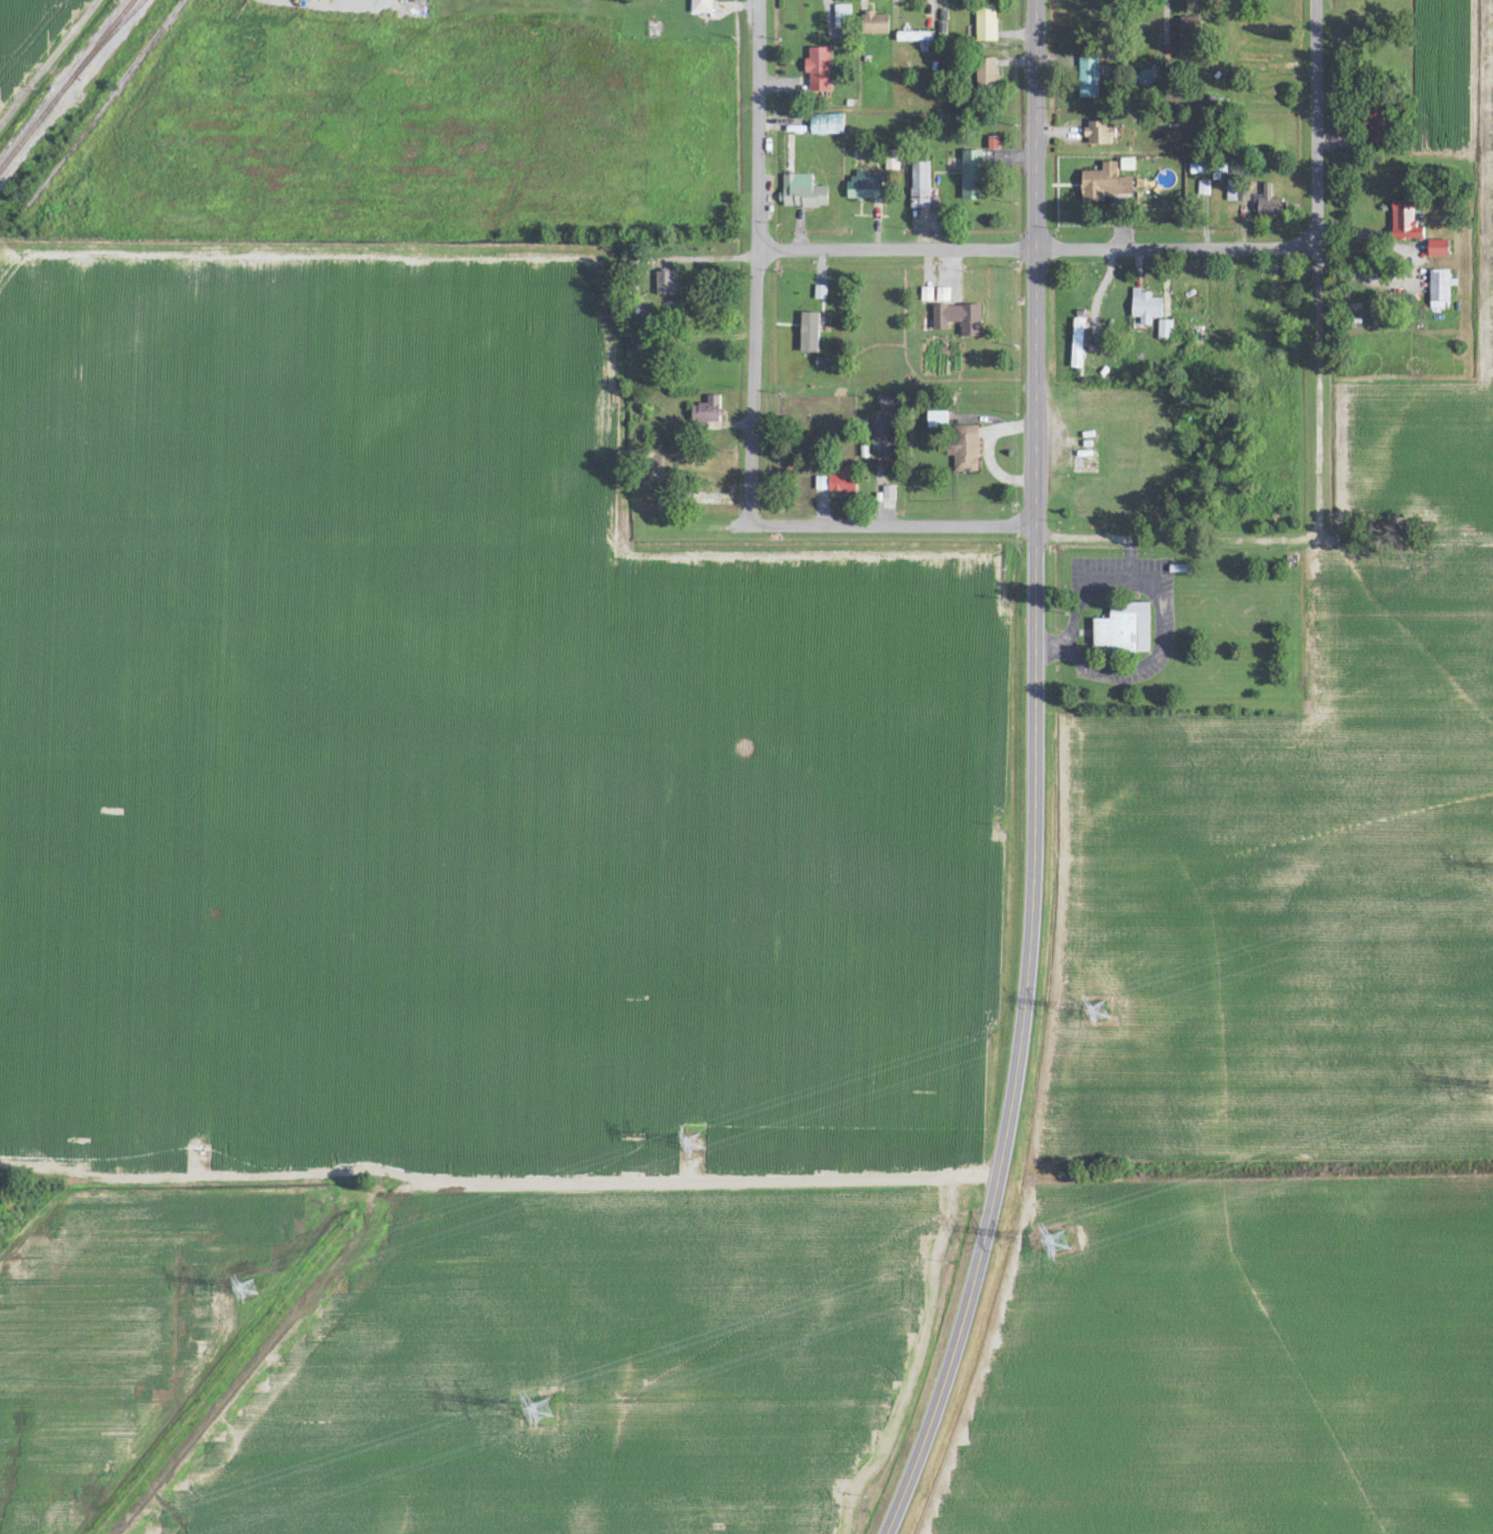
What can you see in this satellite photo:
building: (701, 7)
building: (841, 17)
railway: (121, 19)
building: (985, 23)
building: (875, 24)
building: (914, 37)
building: (818, 70)
building: (986, 72)
building: (1088, 78)
railway: (66, 84)
building: (826, 125)
building: (1375, 127)
building: (1098, 134)
building: (993, 144)
building: (1198, 169)
building: (971, 176)
building: (1104, 185)
building: (919, 186)
building: (864, 188)
building: (1203, 188)
building: (801, 193)
building: (1267, 204)
building: (1404, 222)
road: (897, 246)
road: (1177, 248)
building: (1437, 249)
crop: (1481, 255)
road: (755, 261)
road: (1037, 263)
road: (1317, 267)
building: (665, 285)
building: (1439, 290)
building: (926, 295)
building: (1145, 308)
building: (958, 319)
building: (1164, 330)
building: (809, 333)
building: (1076, 344)
building: (888, 404)
building: (707, 410)
building: (937, 420)
building: (883, 437)
building: (964, 448)
building: (837, 481)
building: (888, 492)
road: (1023, 526)
building: (1123, 629)
crop: (1287, 897)
road: (1020, 1039)
power tower: (1059, 1241)
power tower: (251, 1287)
power tower: (546, 1409)

